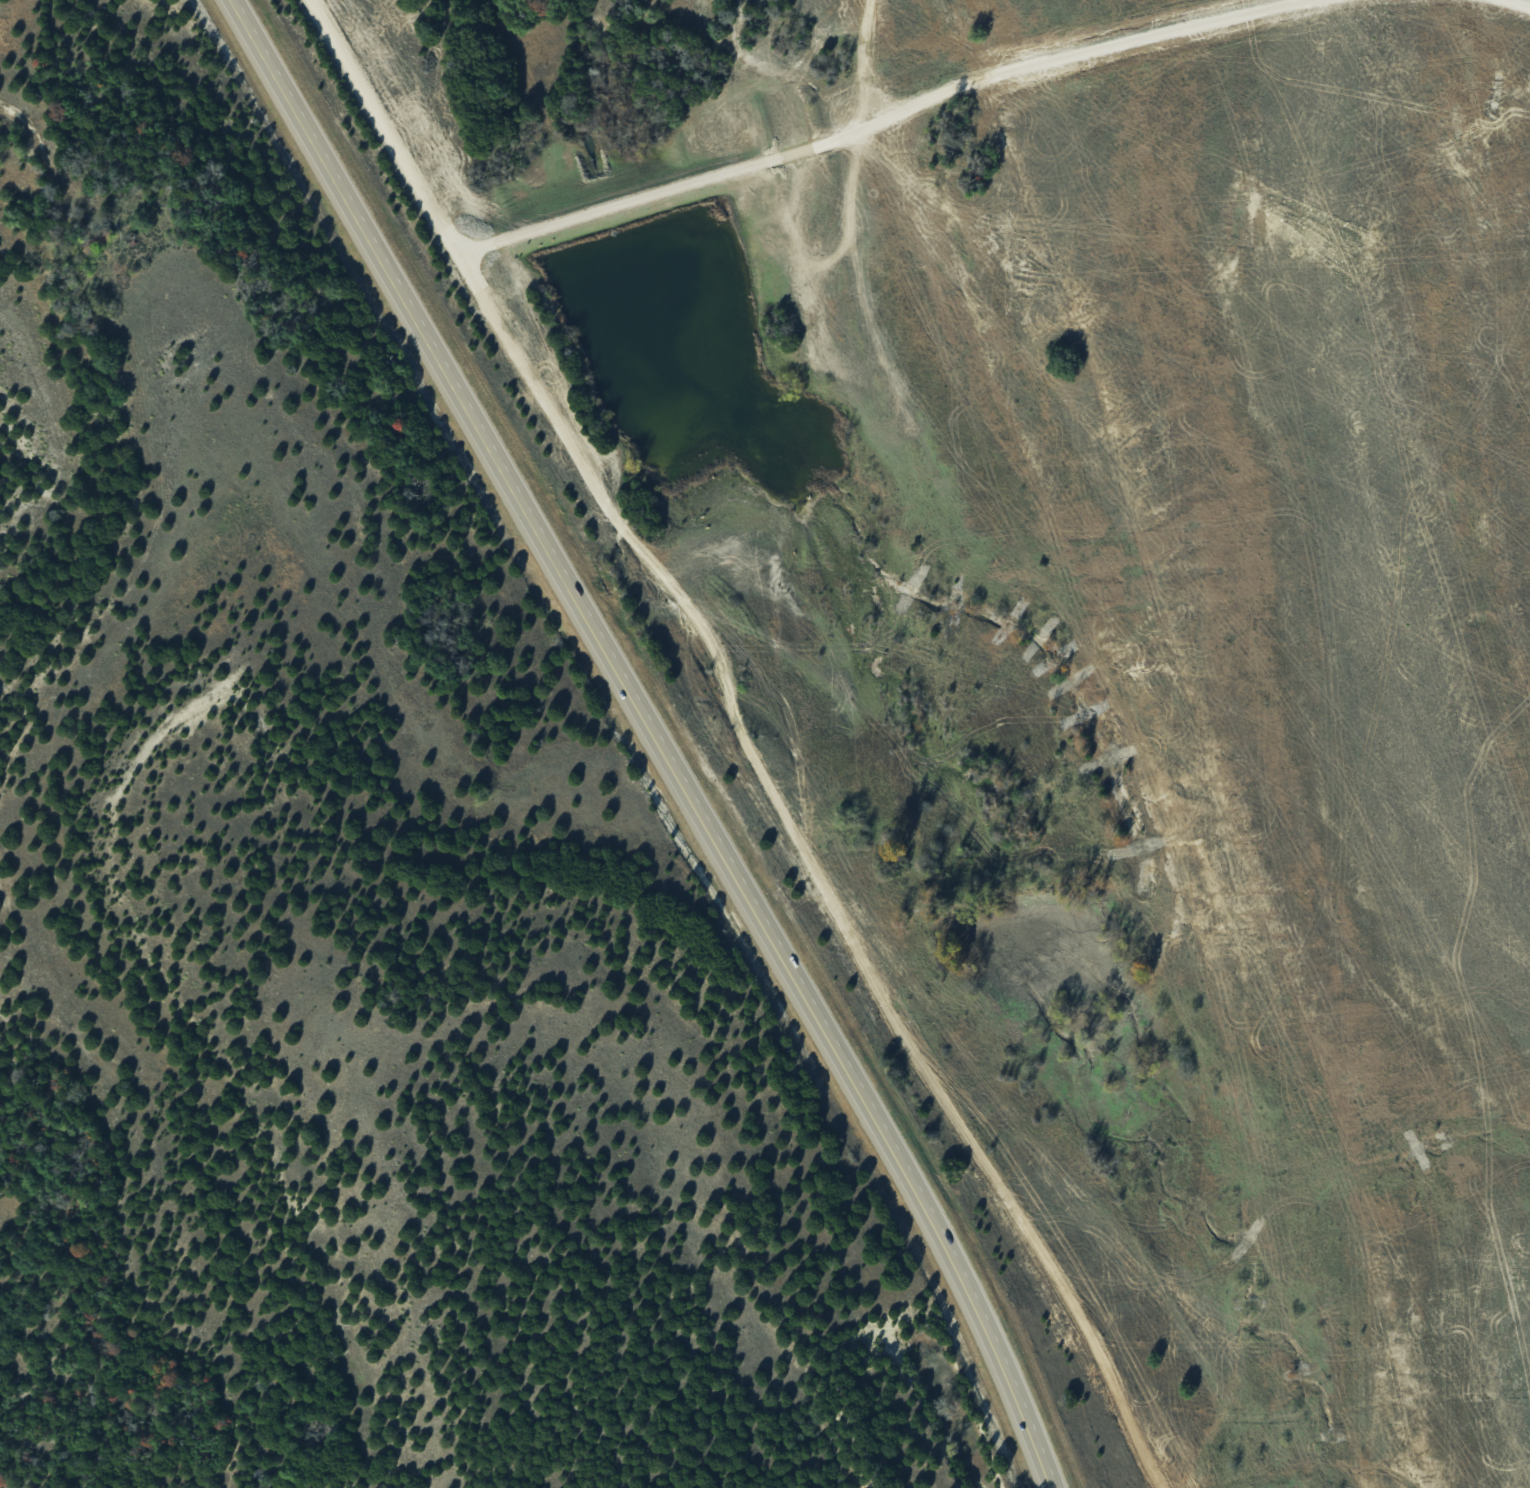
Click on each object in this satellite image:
road: (1524, 1)
road: (872, 116)
road: (385, 122)
dam: (627, 209)
road: (650, 737)
road: (820, 860)
dam: (1009, 882)

